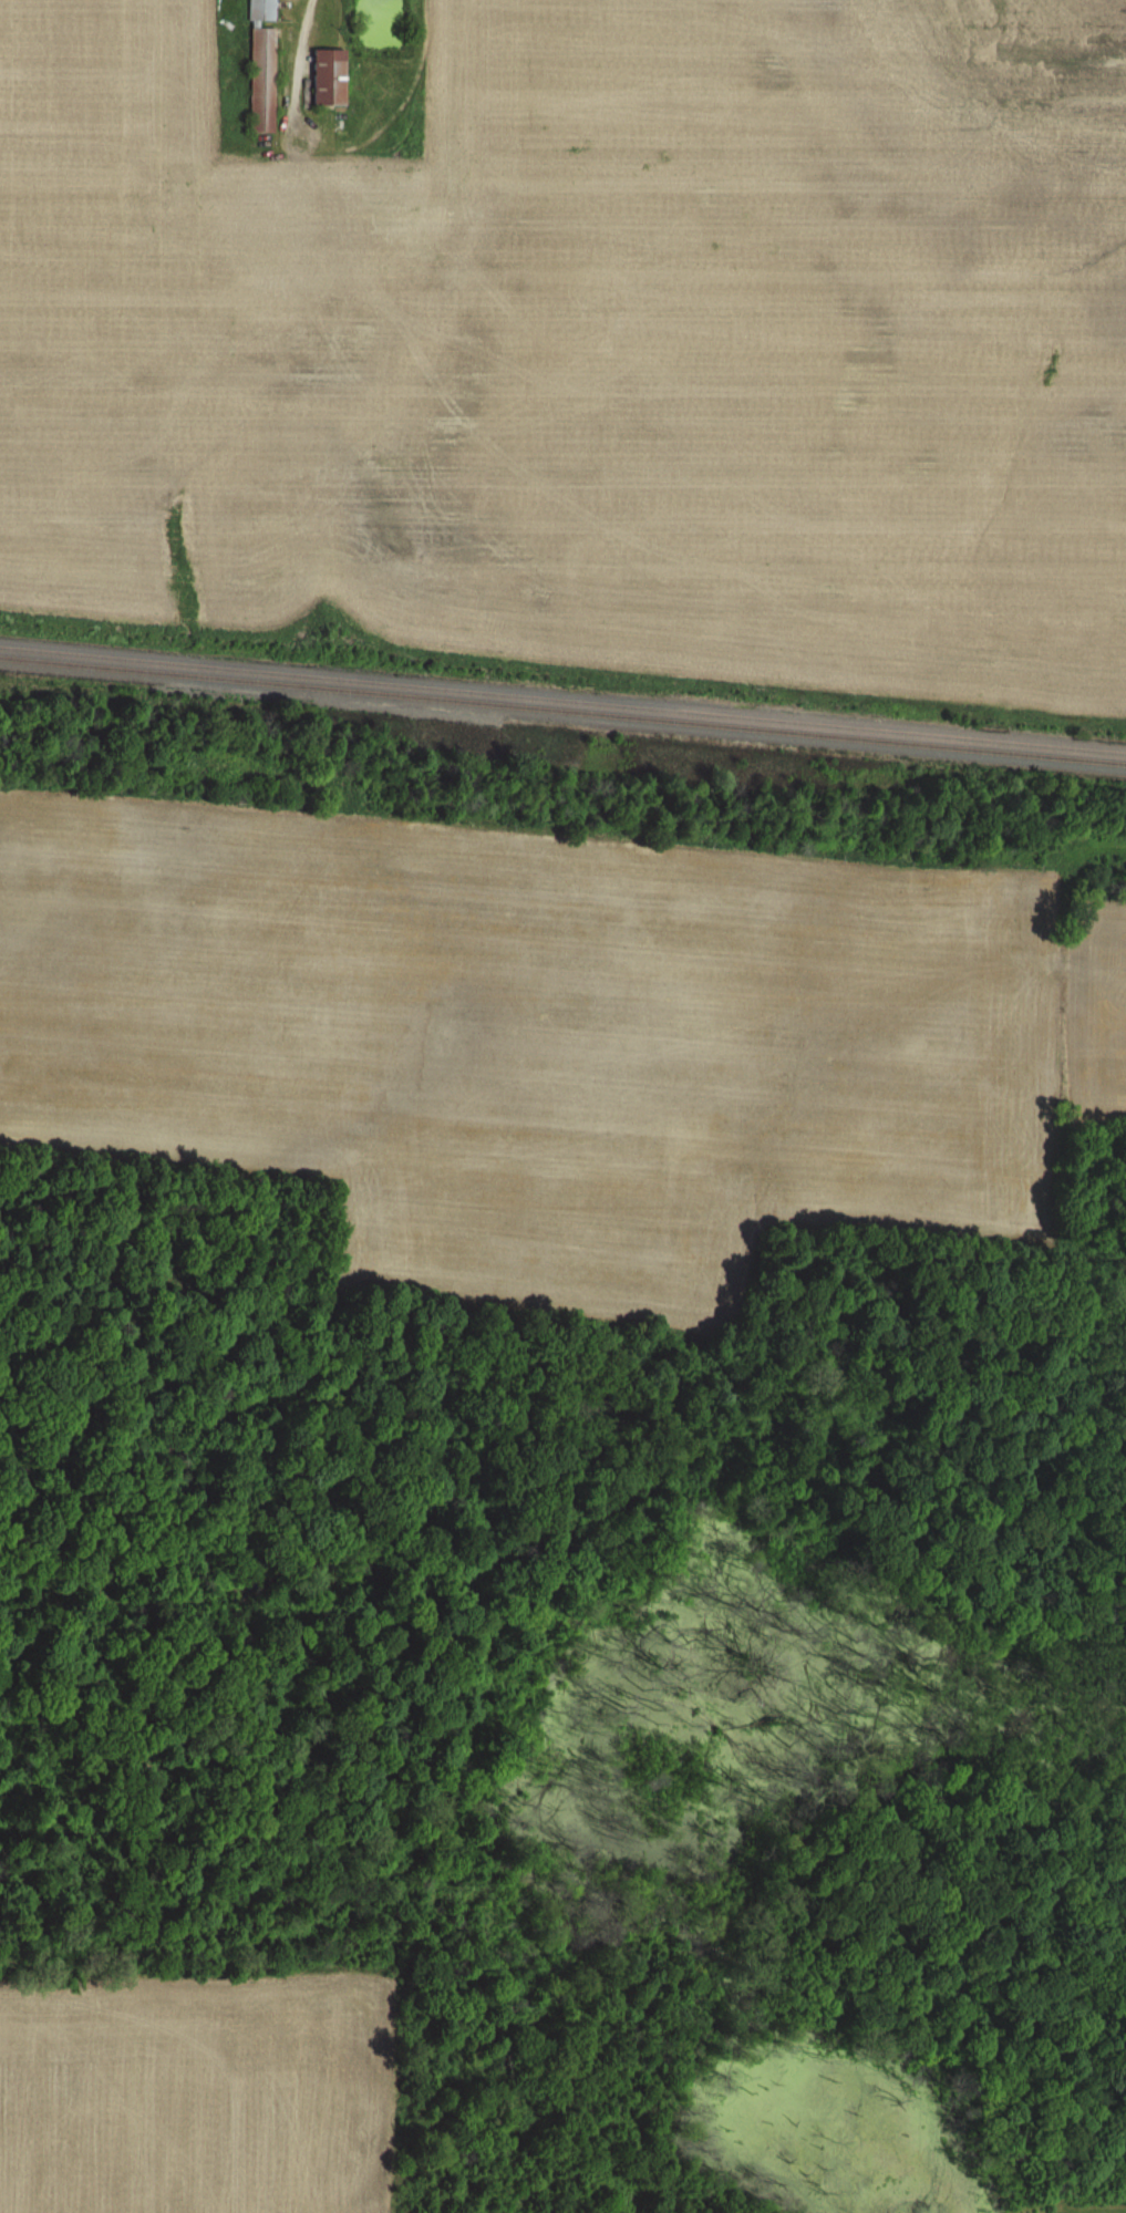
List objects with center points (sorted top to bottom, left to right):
road: (298, 32)
building: (258, 66)
building: (324, 76)
railway: (562, 699)
railway: (562, 710)

